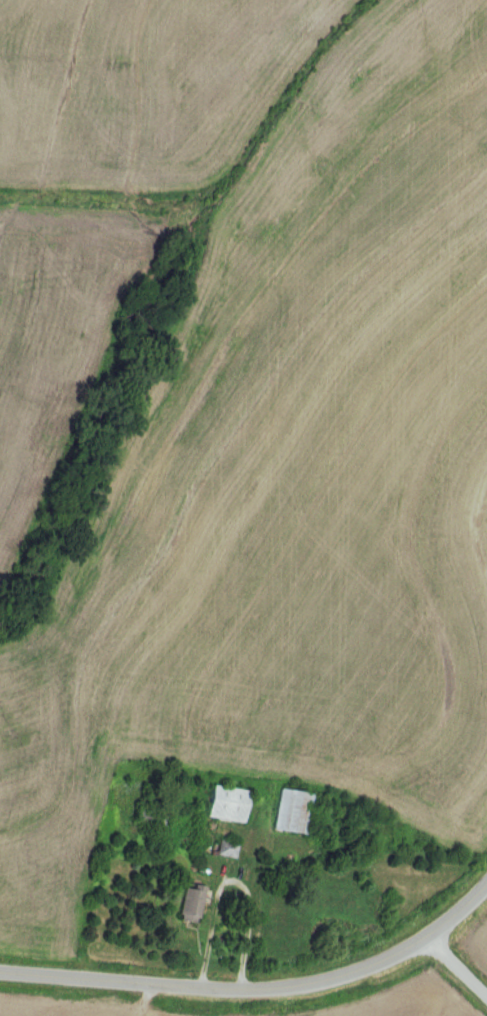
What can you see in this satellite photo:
building: (223, 804)
building: (289, 812)
building: (149, 818)
building: (224, 849)
road: (225, 879)
building: (187, 904)
road: (457, 966)
road: (258, 992)

